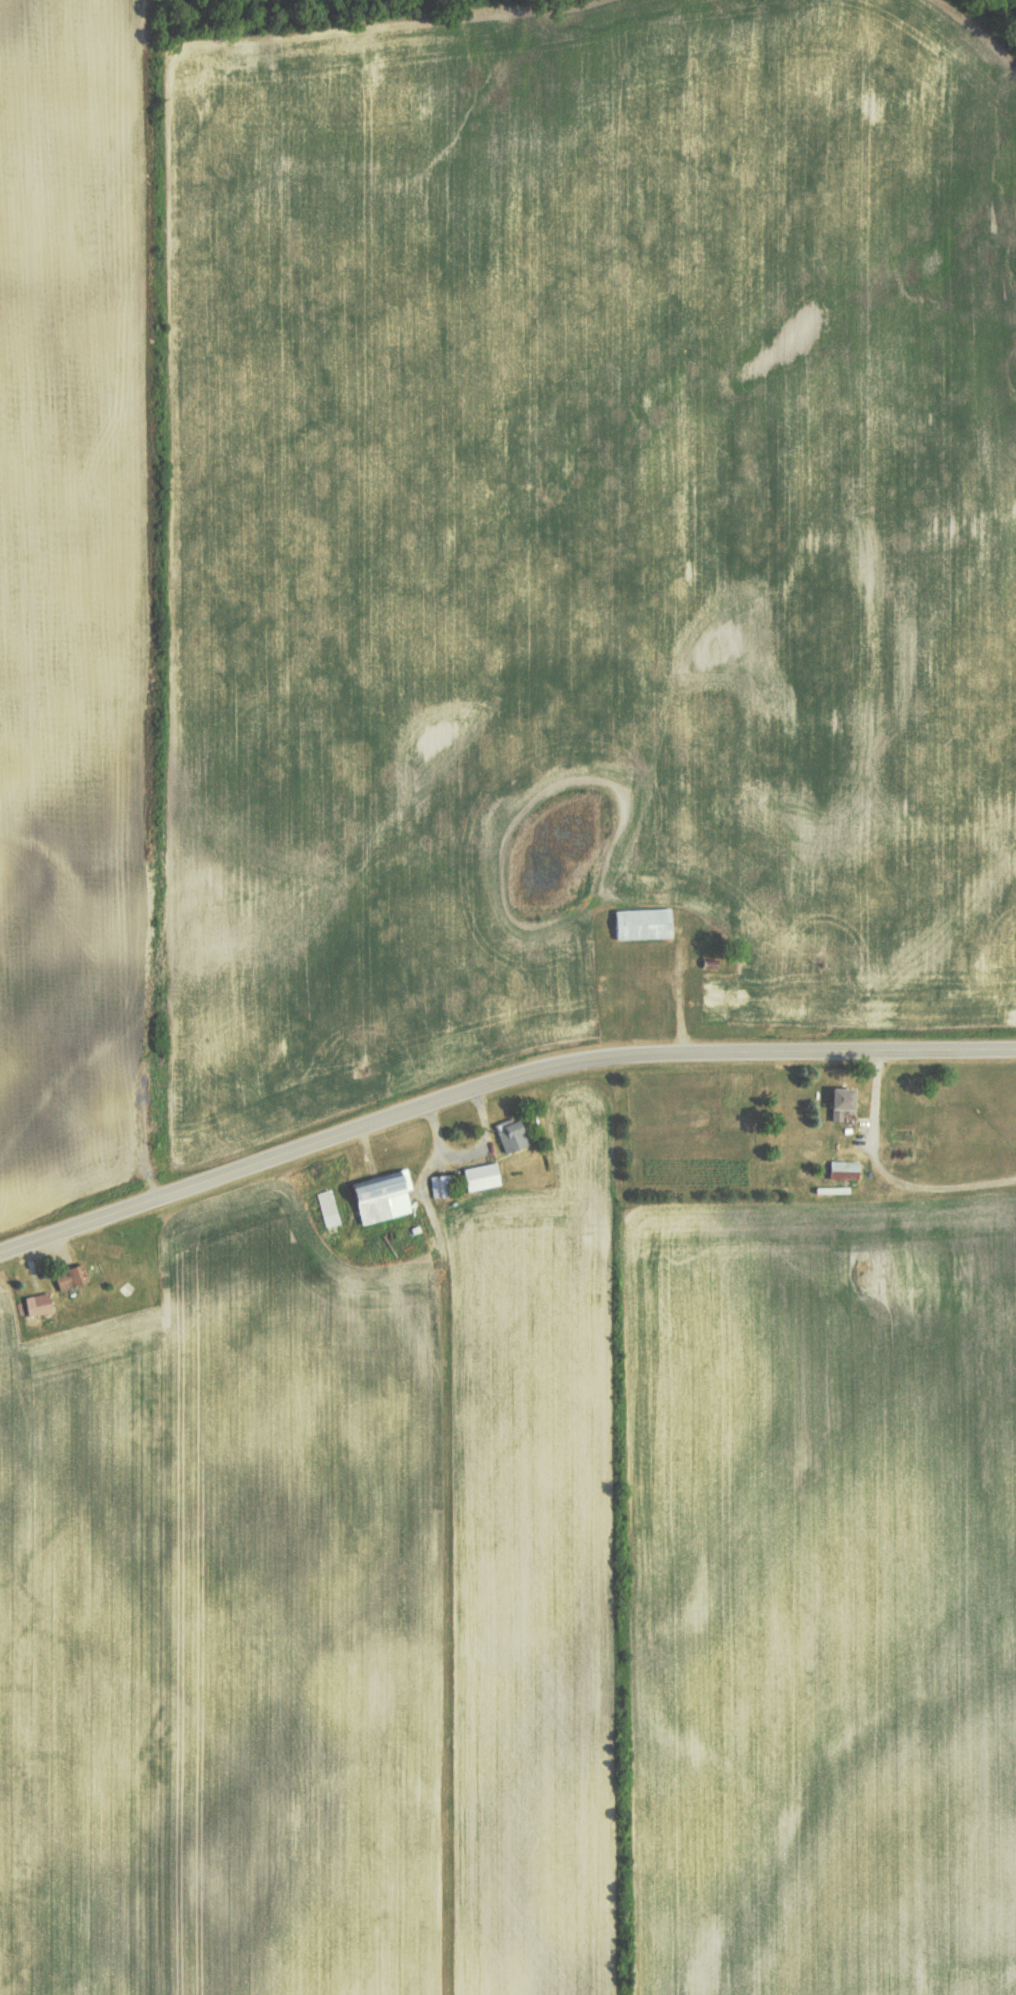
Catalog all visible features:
crop: (585, 512)
building: (643, 923)
road: (495, 1086)
building: (842, 1100)
building: (512, 1134)
building: (844, 1168)
building: (482, 1175)
building: (441, 1184)
building: (382, 1195)
building: (71, 1275)
building: (38, 1303)
crop: (822, 1596)
crop: (315, 1626)

